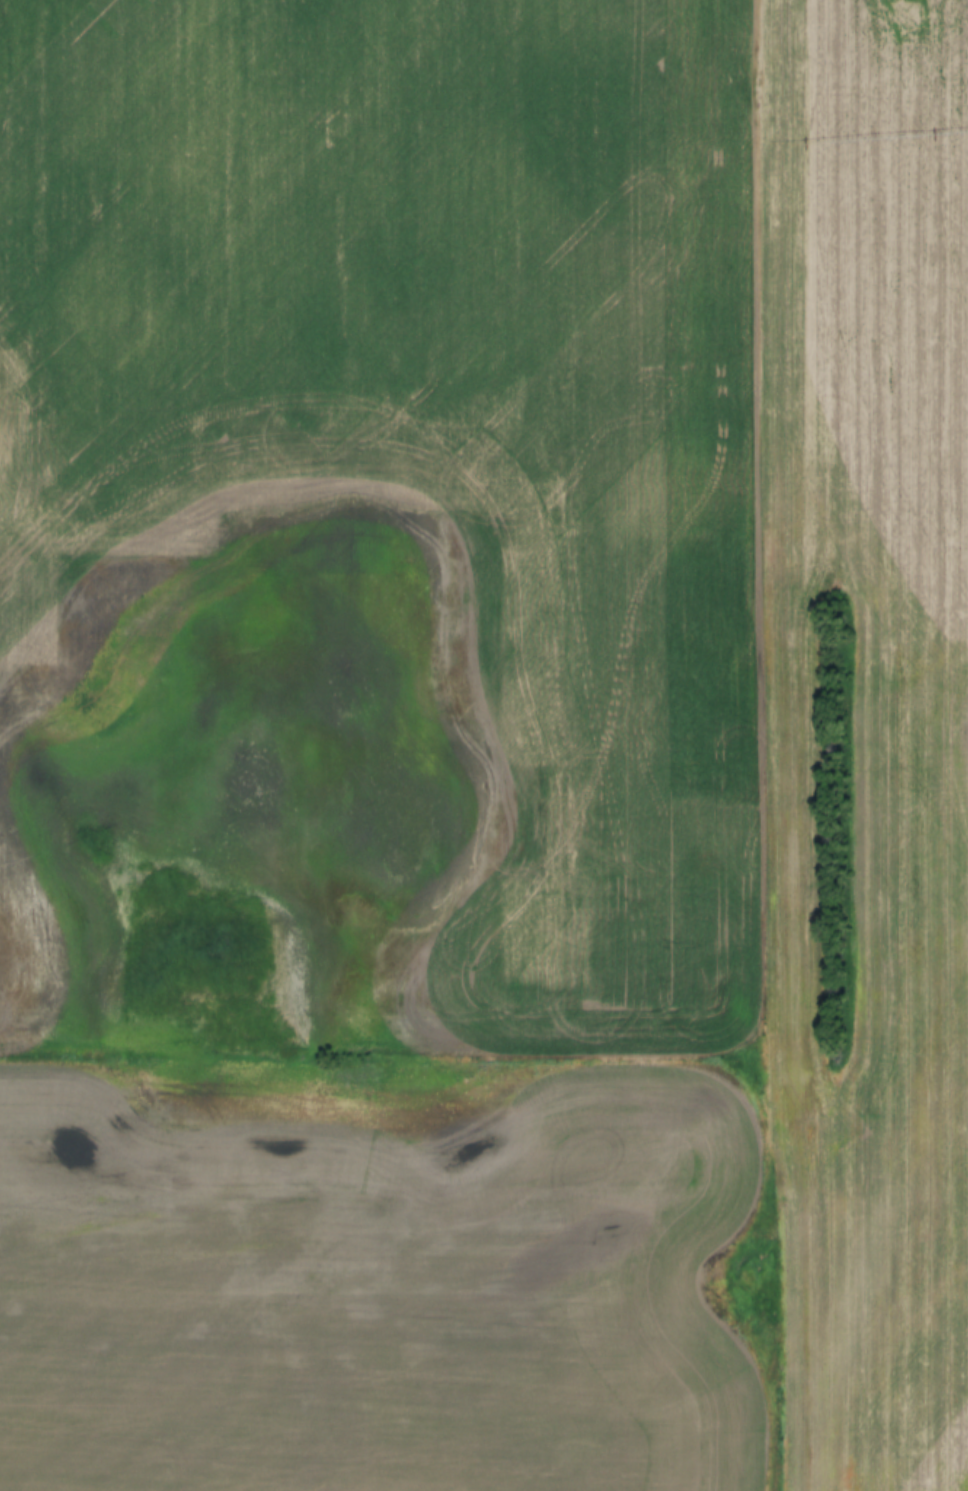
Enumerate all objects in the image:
road: (763, 527)
road: (380, 1059)

